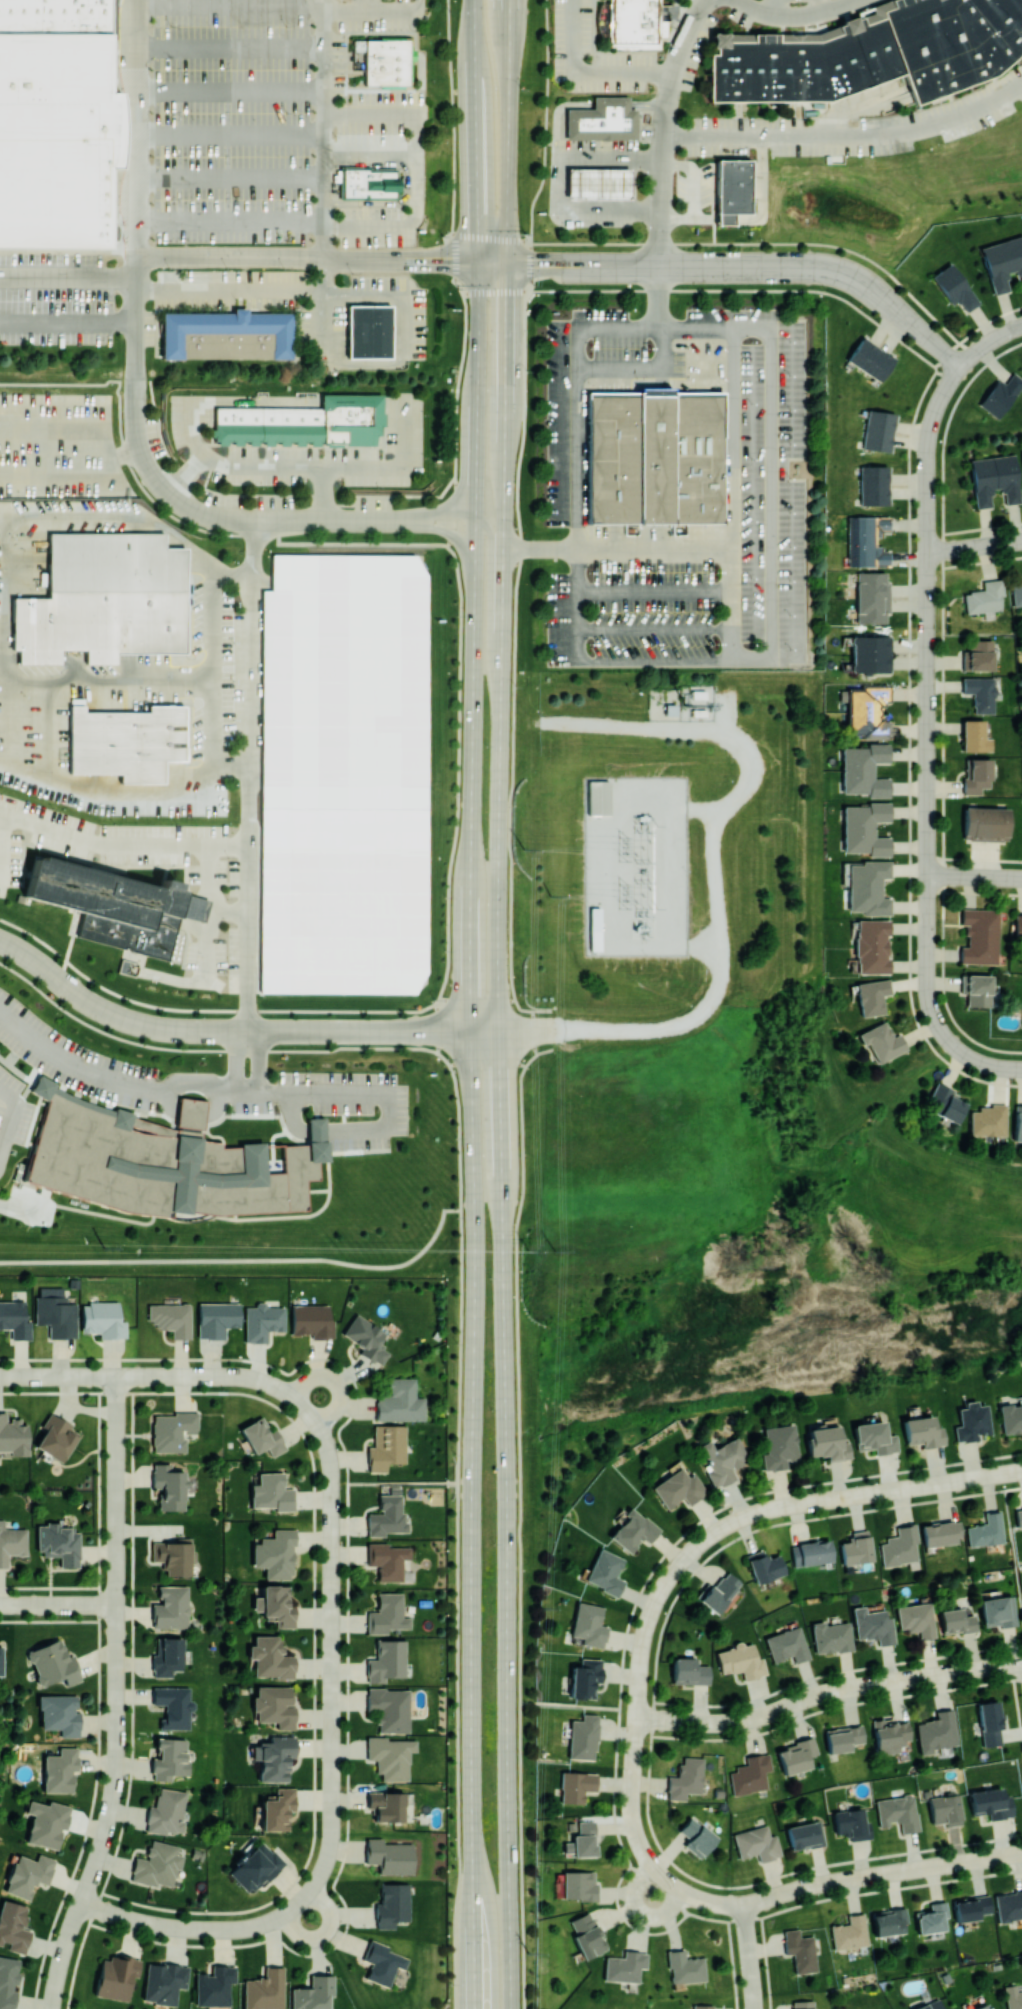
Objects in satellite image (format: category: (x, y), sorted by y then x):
road: (858, 1)
road: (369, 2)
road: (254, 3)
road: (396, 5)
road: (819, 8)
road: (777, 11)
building: (57, 15)
building: (635, 23)
road: (796, 23)
road: (229, 45)
building: (870, 51)
building: (386, 61)
road: (586, 70)
road: (229, 86)
road: (612, 104)
road: (649, 105)
road: (557, 115)
building: (603, 122)
road: (136, 127)
road: (323, 128)
road: (476, 130)
road: (849, 130)
road: (229, 132)
building: (59, 137)
road: (544, 145)
road: (369, 153)
road: (229, 178)
road: (695, 178)
road: (556, 180)
gas station: (599, 180)
building: (579, 181)
building: (368, 182)
building: (738, 186)
road: (754, 219)
road: (376, 220)
road: (660, 224)
road: (556, 241)
road: (306, 257)
traffic signals: (477, 262)
road: (484, 262)
traffic signals: (507, 262)
road: (517, 262)
road: (684, 263)
building: (1000, 263)
road: (455, 269)
road: (68, 275)
road: (850, 276)
building: (954, 287)
road: (592, 289)
road: (388, 291)
road: (67, 321)
road: (768, 327)
building: (371, 329)
road: (918, 329)
building: (231, 336)
road: (990, 342)
building: (870, 358)
building: (1000, 394)
road: (941, 400)
building: (308, 424)
building: (877, 430)
road: (197, 451)
building: (657, 459)
road: (335, 465)
road: (74, 473)
road: (928, 474)
building: (994, 479)
building: (873, 485)
road: (168, 492)
road: (322, 492)
road: (730, 492)
road: (136, 516)
road: (441, 519)
road: (182, 521)
road: (451, 533)
building: (866, 540)
road: (928, 540)
road: (616, 546)
road: (975, 546)
road: (655, 587)
building: (1017, 594)
building: (871, 596)
building: (984, 597)
building: (105, 598)
road: (928, 598)
road: (490, 605)
road: (514, 612)
road: (655, 628)
building: (870, 653)
road: (928, 654)
building: (978, 655)
road: (215, 668)
road: (71, 678)
building: (980, 693)
building: (868, 711)
road: (928, 711)
road: (682, 727)
building: (976, 735)
building: (127, 741)
building: (864, 769)
road: (927, 770)
road: (252, 774)
building: (346, 774)
building: (977, 775)
road: (126, 785)
building: (600, 797)
road: (703, 807)
road: (458, 808)
road: (1, 811)
building: (985, 823)
building: (865, 828)
road: (927, 828)
road: (1, 842)
road: (124, 843)
power tower: (623, 847)
power tower: (524, 848)
road: (975, 858)
power substation: (636, 864)
road: (928, 865)
road: (969, 876)
road: (1016, 878)
road: (203, 887)
building: (868, 887)
road: (213, 892)
road: (975, 892)
power tower: (623, 894)
power tower: (550, 895)
road: (928, 896)
building: (110, 904)
building: (192, 905)
road: (194, 906)
building: (1018, 925)
road: (199, 926)
building: (594, 927)
building: (980, 936)
road: (928, 943)
building: (872, 946)
road: (928, 972)
road: (205, 975)
building: (976, 989)
building: (871, 996)
road: (496, 999)
road: (499, 1004)
road: (930, 1005)
road: (700, 1012)
road: (237, 1030)
road: (529, 1031)
road: (947, 1038)
road: (247, 1039)
building: (882, 1041)
road: (984, 1063)
road: (114, 1076)
road: (246, 1080)
road: (352, 1090)
building: (944, 1103)
road: (290, 1114)
road: (11, 1117)
building: (988, 1120)
building: (1017, 1122)
road: (317, 1131)
road: (473, 1135)
building: (164, 1162)
road: (17, 1209)
park: (739, 1230)
power tower: (105, 1247)
power tower: (529, 1249)
power tower: (556, 1250)
road: (370, 1265)
building: (55, 1312)
building: (15, 1318)
building: (171, 1318)
building: (217, 1318)
building: (102, 1319)
building: (312, 1320)
building: (262, 1321)
building: (367, 1338)
road: (158, 1375)
road: (335, 1380)
building: (400, 1401)
building: (1011, 1418)
building: (972, 1421)
building: (172, 1431)
building: (922, 1431)
building: (13, 1436)
building: (262, 1436)
building: (56, 1437)
building: (874, 1437)
building: (827, 1443)
building: (779, 1445)
building: (387, 1447)
building: (723, 1460)
road: (402, 1482)
building: (169, 1487)
road: (1013, 1487)
building: (679, 1488)
building: (271, 1492)
road: (851, 1492)
building: (388, 1516)
building: (1019, 1516)
building: (633, 1530)
building: (986, 1530)
building: (942, 1533)
road: (518, 1535)
building: (11, 1542)
building: (59, 1543)
building: (900, 1546)
building: (856, 1547)
building: (811, 1552)
building: (275, 1554)
building: (173, 1555)
building: (388, 1560)
building: (764, 1565)
building: (605, 1571)
building: (718, 1591)
road: (58, 1604)
building: (276, 1604)
road: (347, 1604)
building: (171, 1607)
road: (456, 1608)
power tower: (541, 1608)
building: (997, 1611)
building: (387, 1613)
building: (916, 1619)
building: (956, 1620)
building: (588, 1624)
building: (872, 1625)
building: (831, 1636)
building: (787, 1644)
building: (167, 1656)
road: (332, 1657)
building: (270, 1658)
building: (1, 1660)
building: (387, 1660)
building: (740, 1660)
building: (52, 1663)
road: (654, 1669)
road: (835, 1670)
building: (689, 1671)
building: (585, 1677)
road: (870, 1681)
road: (117, 1696)
road: (569, 1704)
building: (274, 1705)
building: (173, 1706)
road: (835, 1706)
building: (391, 1707)
road: (1017, 1712)
building: (59, 1714)
road: (672, 1716)
road: (716, 1719)
building: (989, 1722)
building: (936, 1731)
building: (889, 1734)
building: (583, 1737)
building: (843, 1737)
road: (632, 1751)
road: (616, 1752)
building: (796, 1754)
building: (391, 1756)
building: (274, 1757)
building: (169, 1758)
building: (60, 1770)
building: (750, 1774)
building: (686, 1778)
building: (576, 1785)
building: (991, 1802)
building: (386, 1805)
building: (408, 1806)
building: (277, 1808)
building: (945, 1809)
building: (167, 1811)
building: (898, 1812)
building: (46, 1822)
building: (851, 1823)
building: (804, 1834)
building: (696, 1836)
building: (582, 1840)
building: (756, 1843)
building: (390, 1856)
building: (158, 1865)
building: (255, 1866)
road: (918, 1866)
building: (28, 1874)
road: (804, 1883)
building: (577, 1885)
road: (768, 1893)
building: (392, 1904)
building: (1008, 1905)
building: (970, 1907)
road: (642, 1911)
building: (931, 1917)
building: (888, 1920)
building: (13, 1926)
road: (191, 1928)
building: (850, 1932)
road: (324, 1933)
building: (586, 1934)
road: (748, 1947)
building: (800, 1950)
power tower: (528, 1952)
building: (383, 1962)
road: (765, 1962)
road: (732, 1965)
building: (624, 1966)
building: (685, 1967)
building: (114, 1977)
building: (7, 1981)
building: (164, 1982)
building: (214, 1985)
building: (264, 1990)
building: (312, 1992)
building: (1013, 1997)
road: (753, 2001)
building: (803, 2004)
building: (930, 2005)
building: (703, 2006)
building: (981, 2006)

